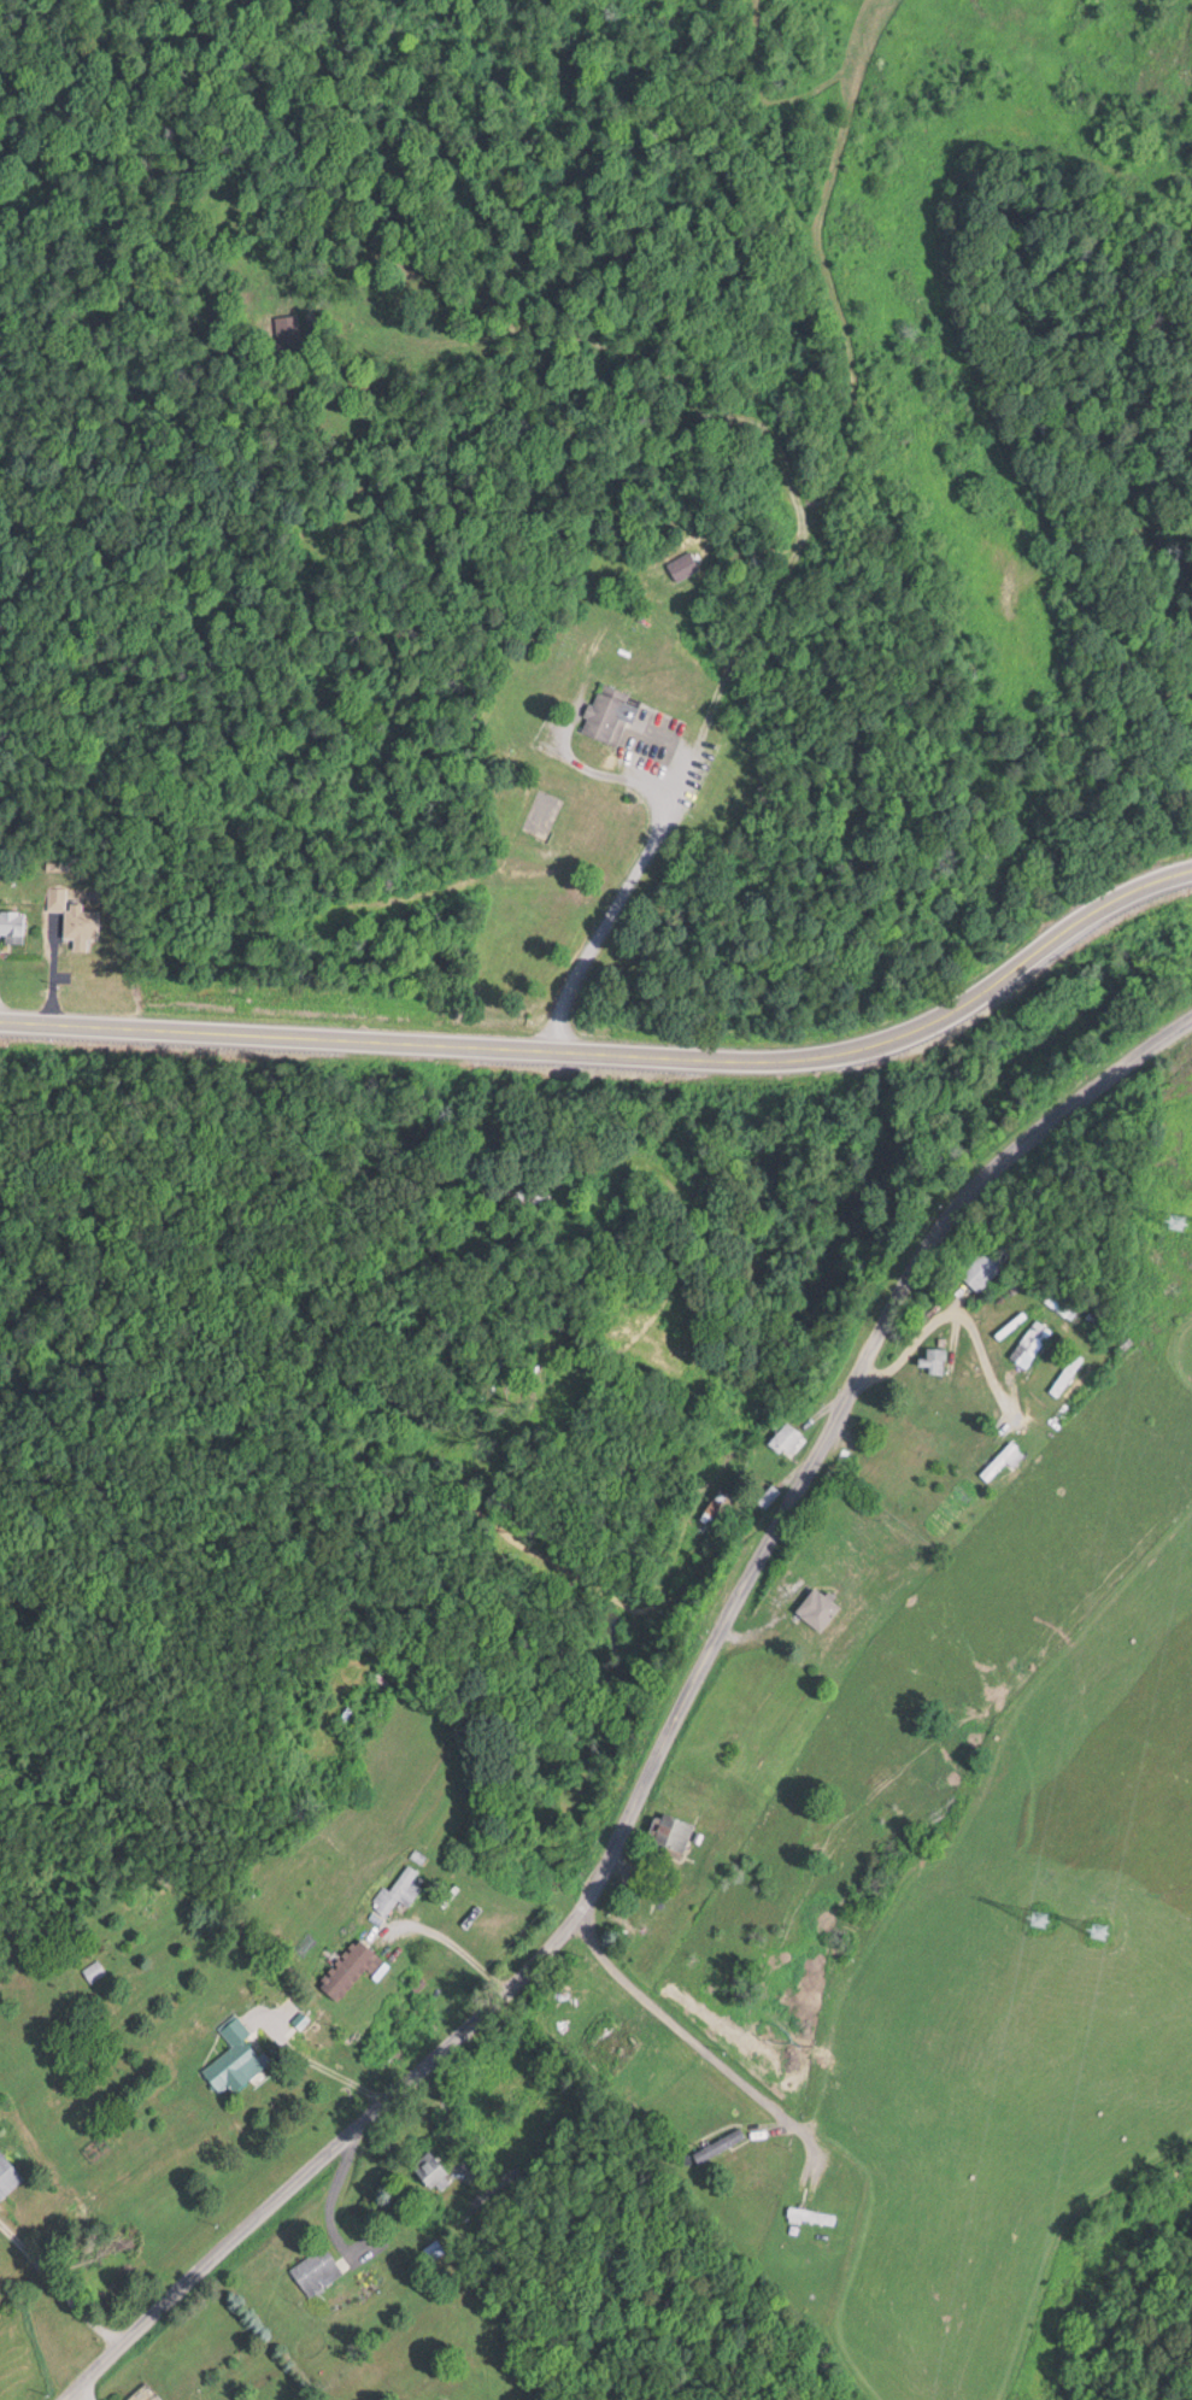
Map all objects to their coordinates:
building: (683, 567)
building: (609, 715)
road: (617, 904)
building: (76, 923)
building: (12, 926)
road: (620, 1055)
building: (528, 1196)
power tower: (1180, 1215)
building: (985, 1266)
building: (1059, 1302)
building: (1030, 1343)
building: (934, 1359)
building: (1065, 1374)
building: (786, 1438)
building: (1000, 1461)
building: (769, 1496)
building: (818, 1608)
road: (671, 1742)
building: (670, 1831)
building: (398, 1891)
building: (1040, 1917)
power tower: (1043, 1920)
power tower: (1104, 1932)
building: (360, 1954)
building: (94, 1970)
road: (685, 2035)
building: (615, 2043)
building: (235, 2058)
road: (319, 2061)
road: (447, 2125)
building: (718, 2144)
building: (8, 2176)
road: (328, 2204)
building: (811, 2216)
building: (317, 2270)
road: (55, 2282)
building: (151, 2399)

